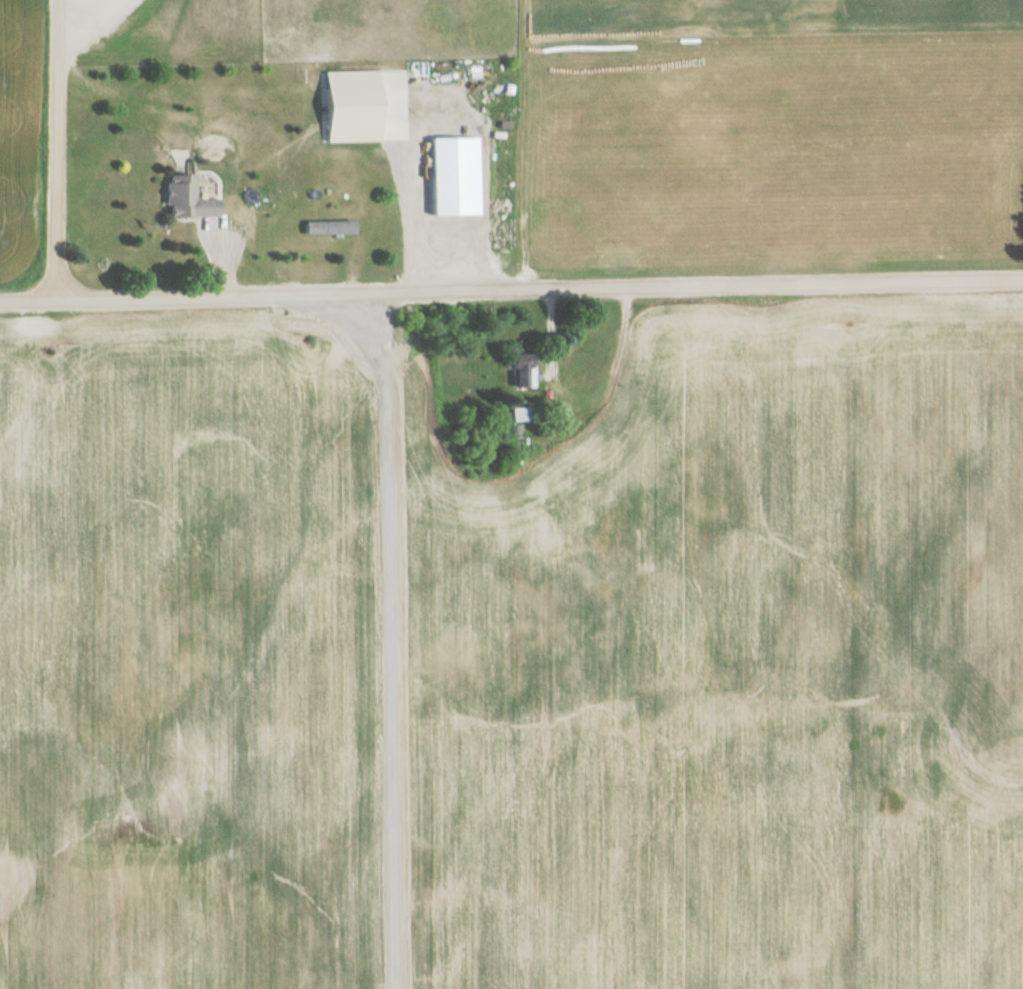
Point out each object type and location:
road: (55, 153)
building: (179, 200)
building: (323, 229)
road: (511, 294)
building: (516, 372)
building: (580, 482)

